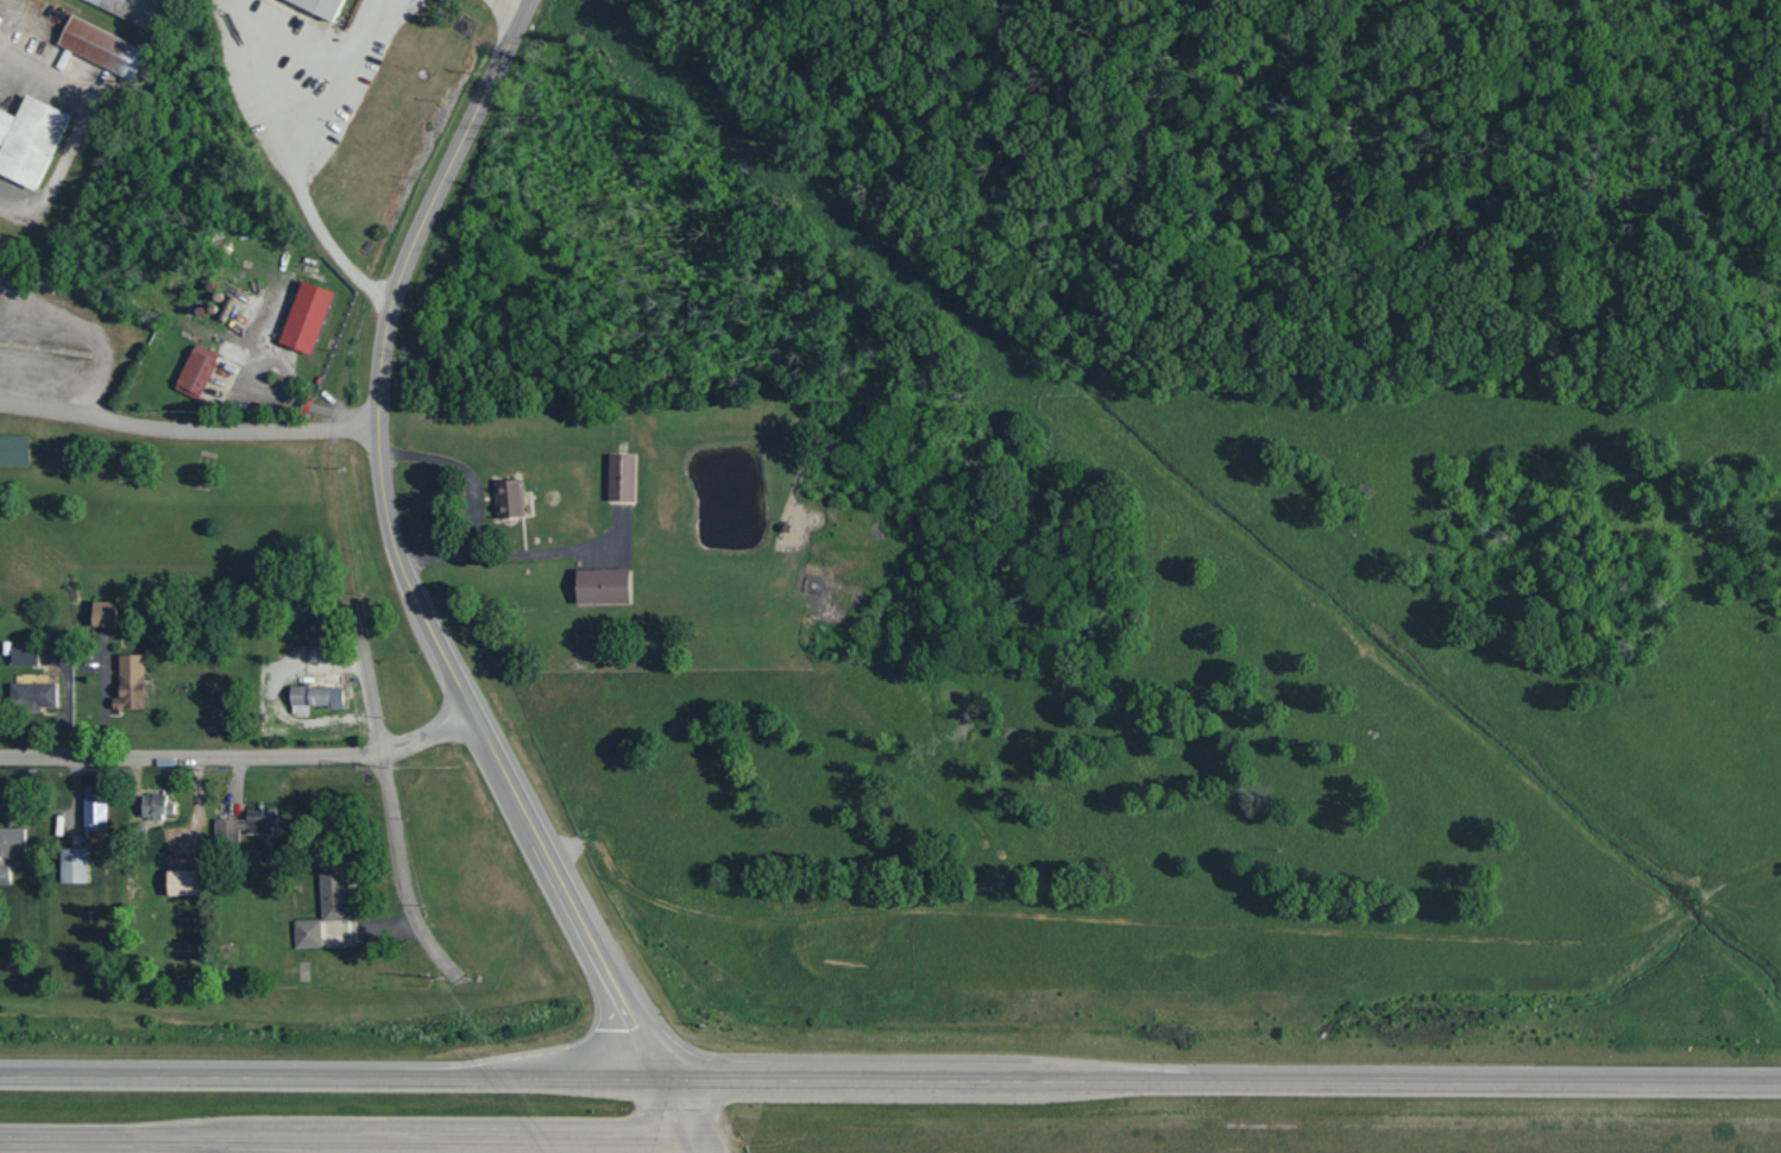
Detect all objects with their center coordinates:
road: (520, 0)
building: (319, 6)
building: (128, 8)
building: (99, 45)
road: (1064, 74)
building: (27, 139)
road: (306, 156)
park: (1169, 193)
park: (1712, 235)
building: (304, 316)
building: (194, 371)
road: (373, 423)
road: (183, 426)
building: (13, 451)
road: (461, 470)
building: (619, 477)
park: (164, 484)
building: (508, 498)
road: (505, 553)
building: (600, 585)
building: (101, 613)
building: (23, 655)
building: (128, 682)
building: (32, 695)
building: (315, 695)
road: (235, 748)
building: (93, 806)
building: (153, 806)
building: (243, 826)
road: (392, 839)
building: (11, 840)
building: (71, 865)
building: (4, 875)
building: (180, 882)
building: (333, 890)
building: (306, 933)
road: (602, 962)
road: (333, 1079)
road: (1223, 1082)
road: (681, 1110)
road: (348, 1138)
road: (700, 1146)

